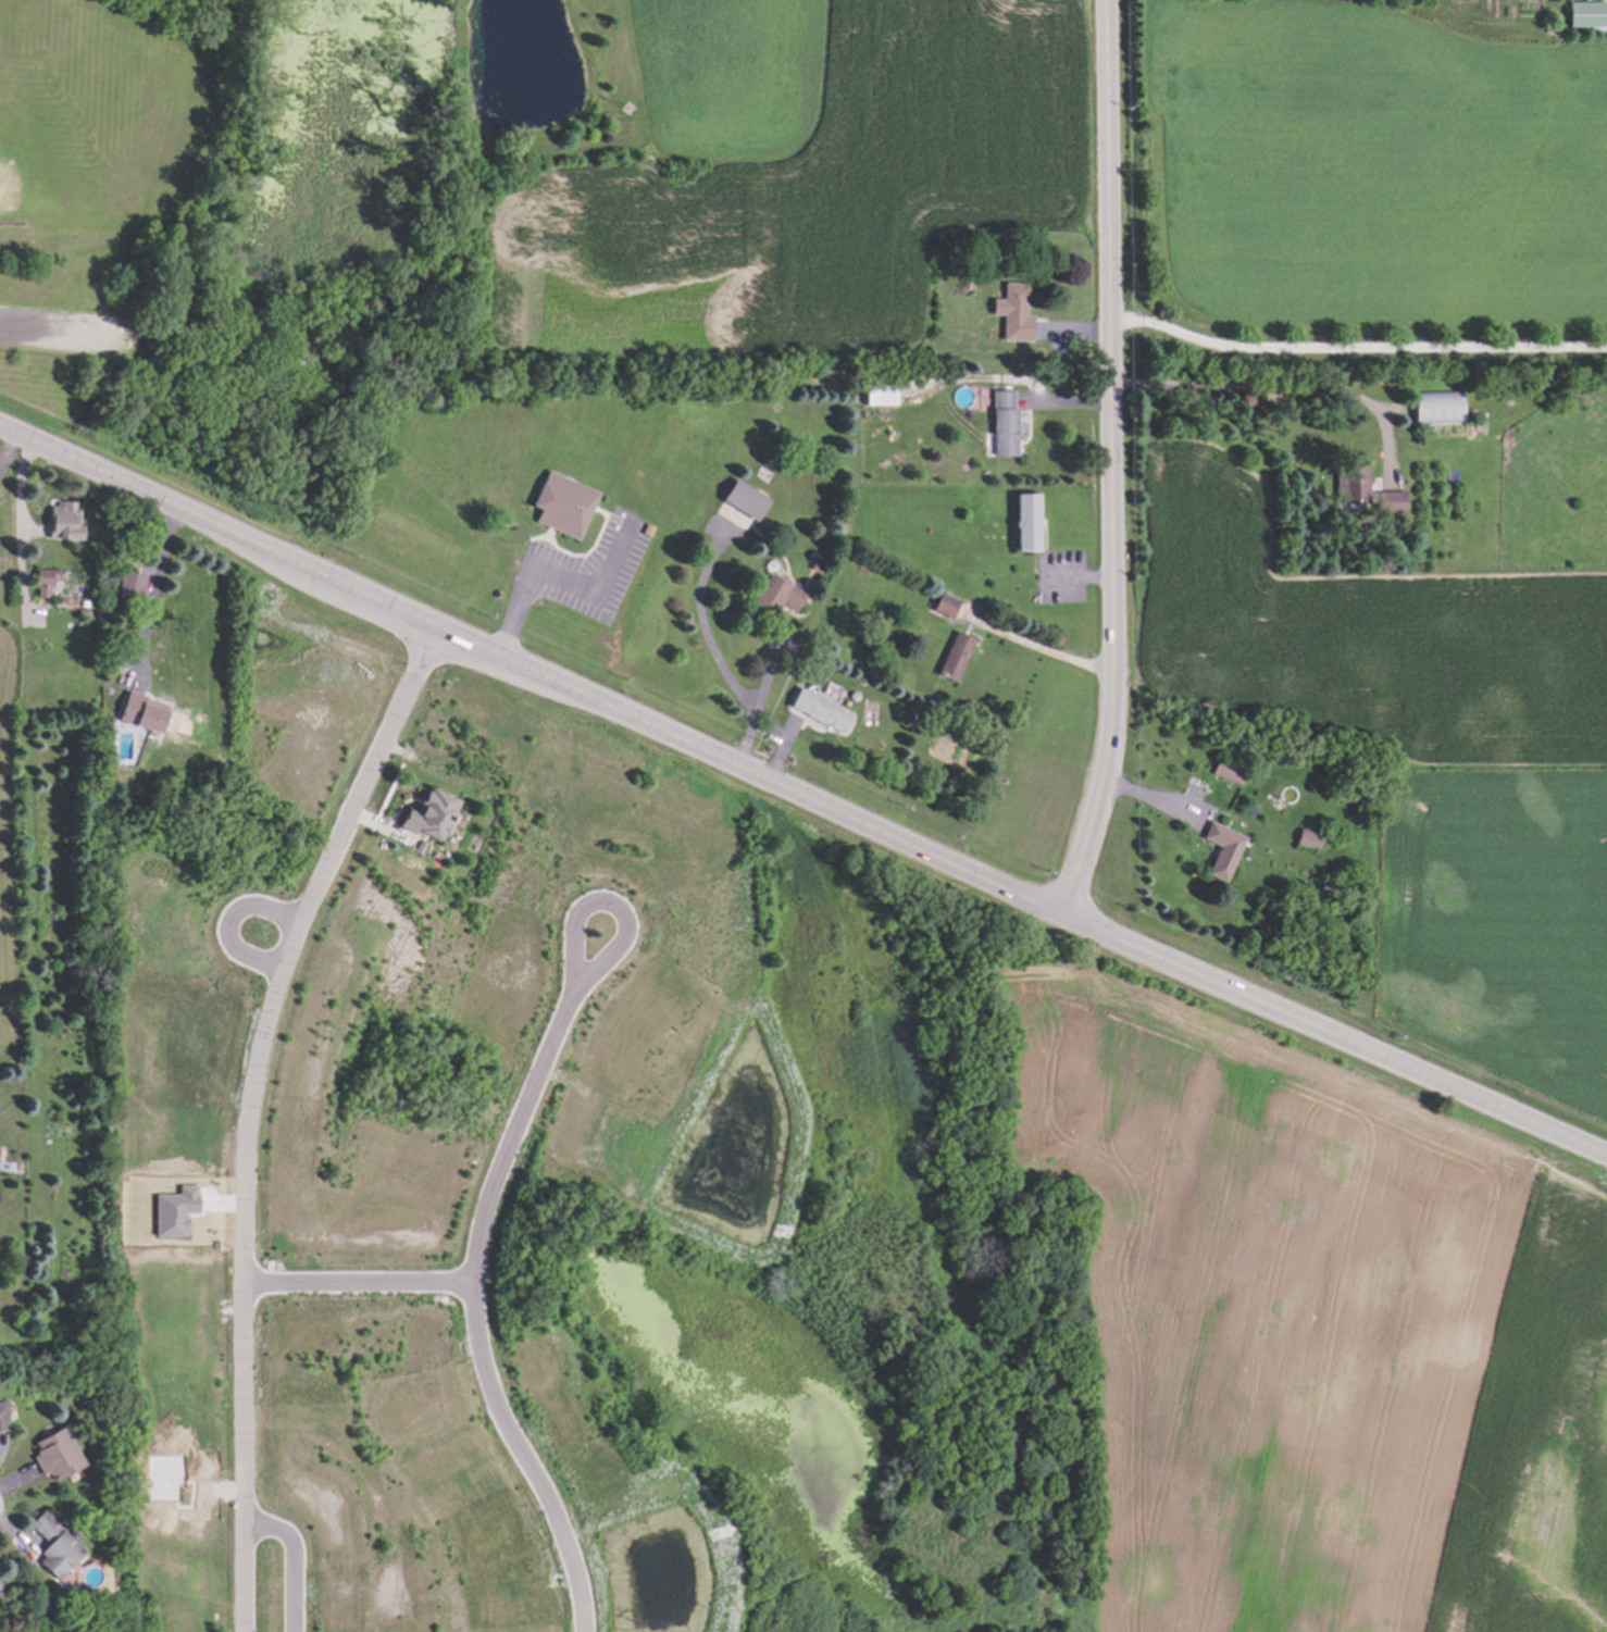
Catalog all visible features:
building: (1584, 12)
building: (1605, 13)
park: (42, 164)
park: (98, 185)
building: (1011, 311)
road: (57, 327)
parking lot: (63, 328)
road: (1355, 348)
road: (1275, 388)
building: (877, 389)
building: (1565, 399)
building: (1435, 408)
building: (999, 421)
road: (1110, 459)
building: (1362, 490)
building: (744, 498)
building: (559, 501)
building: (63, 520)
building: (1022, 521)
road: (20, 528)
building: (813, 555)
building: (811, 562)
parking lot: (589, 571)
road: (1080, 577)
road: (560, 578)
building: (41, 582)
building: (128, 586)
road: (153, 594)
building: (775, 594)
building: (944, 605)
building: (80, 612)
road: (1043, 648)
road: (714, 650)
building: (954, 656)
road: (769, 665)
road: (532, 670)
building: (820, 709)
building: (138, 711)
building: (1228, 770)
building: (429, 817)
building: (1307, 837)
building: (1220, 847)
building: (1319, 884)
road: (608, 904)
road: (232, 922)
road: (1336, 1032)
road: (246, 1110)
road: (510, 1133)
building: (176, 1211)
road: (356, 1285)
building: (3, 1416)
building: (58, 1456)
road: (523, 1458)
building: (52, 1544)
road: (292, 1560)

